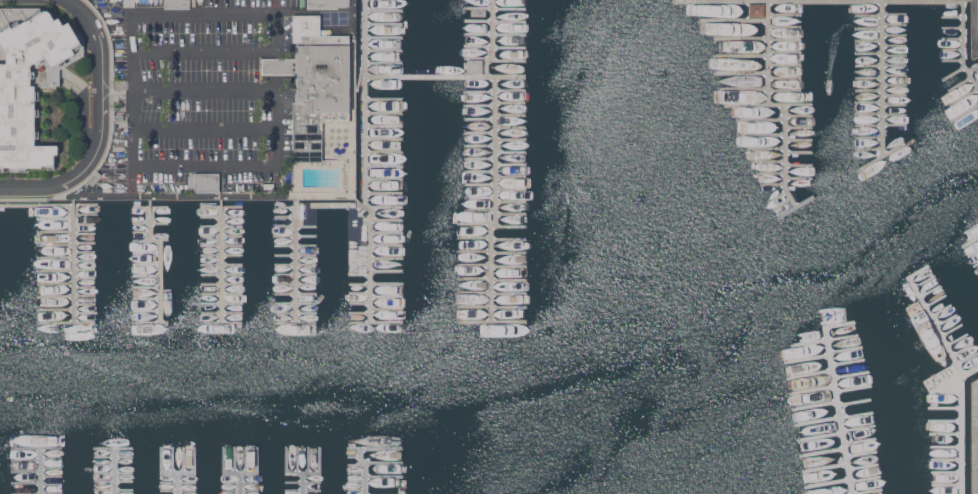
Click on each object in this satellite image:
pier: (685, 0)
pier: (732, 0)
pier: (871, 0)
building: (176, 4)
building: (327, 4)
pier: (495, 8)
building: (756, 9)
pier: (384, 10)
road: (262, 11)
pier: (785, 14)
pier: (881, 15)
pier: (952, 17)
pier: (733, 20)
pier: (496, 21)
road: (975, 22)
pier: (384, 23)
pier: (895, 25)
pier: (785, 26)
pier: (952, 28)
pier: (869, 29)
pier: (496, 34)
pier: (365, 35)
pier: (895, 35)
pier: (384, 37)
pier: (741, 38)
pier: (952, 39)
pier: (785, 40)
road: (91, 41)
pier: (869, 41)
pier: (495, 46)
pier: (895, 46)
pier: (963, 46)
pier: (952, 49)
pier: (384, 50)
pier: (785, 51)
pier: (869, 53)
pier: (741, 55)
pier: (895, 56)
pier: (495, 59)
pier: (952, 60)
pier: (384, 63)
pier: (785, 65)
pier: (881, 65)
building: (475, 66)
pier: (973, 68)
pier: (741, 72)
pier: (954, 73)
pier: (425, 75)
pier: (510, 75)
pier: (895, 75)
pier: (785, 77)
pier: (884, 77)
pier: (869, 78)
pier: (360, 79)
building: (30, 81)
road: (119, 83)
building: (315, 83)
pier: (960, 83)
pier: (895, 85)
pier: (760, 88)
pier: (495, 90)
pier: (869, 90)
road: (118, 94)
pier: (895, 95)
pier: (964, 97)
pier: (383, 99)
pier: (511, 102)
pier: (870, 102)
pier: (798, 103)
pier: (746, 104)
pier: (777, 104)
pier: (480, 105)
pier: (895, 105)
pier: (384, 113)
pier: (511, 114)
pier: (881, 114)
pier: (965, 114)
pier: (798, 115)
pier: (480, 118)
pier: (760, 120)
pier: (881, 125)
road: (104, 126)
pier: (384, 126)
pier: (799, 126)
road: (203, 127)
pier: (511, 127)
pier: (480, 133)
pier: (761, 135)
pier: (870, 137)
pier: (384, 139)
pier: (511, 139)
pier: (799, 139)
pier: (480, 145)
pier: (766, 149)
pier: (870, 149)
pier: (511, 151)
pier: (384, 152)
pier: (799, 152)
pier: (365, 155)
pier: (496, 155)
pier: (881, 157)
pier: (480, 158)
pier: (768, 161)
pier: (511, 164)
pier: (385, 165)
pier: (799, 165)
road: (276, 167)
pier: (480, 171)
pier: (771, 172)
pier: (511, 176)
building: (95, 177)
pier: (799, 178)
pier: (384, 180)
building: (203, 182)
pier: (480, 184)
pier: (773, 184)
building: (269, 186)
pier: (511, 189)
pier: (384, 193)
pier: (778, 195)
pier: (480, 197)
pier: (511, 202)
pier: (782, 203)
pier: (150, 207)
pier: (221, 207)
pier: (285, 207)
pier: (796, 207)
pier: (372, 210)
pier: (480, 210)
pier: (511, 213)
pier: (85, 214)
pier: (151, 214)
pier: (221, 216)
pier: (285, 216)
pier: (56, 218)
pier: (388, 219)
pier: (150, 220)
pier: (151, 223)
pier: (477, 223)
pier: (85, 224)
pier: (285, 225)
pier: (221, 226)
pier: (509, 226)
pier: (55, 231)
pier: (151, 231)
pier: (387, 232)
pier: (85, 234)
pier: (221, 236)
pier: (295, 236)
pier: (492, 237)
pier: (151, 240)
pier: (969, 240)
pier: (66, 243)
pier: (222, 245)
pier: (296, 245)
pier: (387, 245)
pier: (493, 250)
pier: (85, 251)
pier: (146, 253)
pier: (972, 253)
pier: (222, 255)
pier: (296, 255)
pier: (55, 257)
pier: (371, 257)
pier: (387, 259)
pier: (85, 260)
pier: (74, 261)
pier: (222, 261)
pier: (295, 261)
pier: (976, 262)
pier: (296, 263)
pier: (147, 264)
pier: (222, 264)
pier: (492, 265)
pier: (66, 270)
pier: (387, 271)
pier: (916, 271)
pier: (296, 274)
pier: (222, 275)
pier: (147, 276)
pier: (85, 278)
pier: (492, 279)
pier: (922, 280)
pier: (161, 281)
pier: (55, 283)
pier: (296, 283)
pier: (222, 284)
pier: (376, 284)
pier: (85, 287)
pier: (147, 287)
pier: (926, 288)
pier: (360, 292)
pier: (222, 293)
pier: (492, 293)
pier: (295, 294)
pier: (66, 296)
pier: (931, 297)
pier: (387, 298)
pier: (146, 300)
pier: (222, 303)
pier: (85, 304)
pier: (360, 304)
pier: (295, 305)
pier: (935, 305)
pier: (492, 308)
pier: (55, 310)
pier: (387, 310)
pier: (146, 311)
pier: (222, 312)
pier: (85, 313)
pier: (940, 313)
pier: (295, 314)
pier: (360, 314)
pier: (945, 321)
pier: (66, 323)
pier: (146, 323)
pier: (221, 323)
pier: (375, 323)
pier: (492, 323)
pier: (295, 324)
pier: (936, 324)
pier: (950, 330)
pier: (823, 337)
pier: (955, 338)
pier: (960, 346)
pier: (845, 350)
pier: (965, 354)
pier: (805, 357)
pier: (847, 361)
pier: (969, 362)
pier: (971, 369)
pier: (849, 372)
pier: (809, 373)
pier: (812, 388)
pier: (852, 389)
pier: (835, 395)
pier: (852, 401)
pier: (814, 405)
pier: (943, 406)
pier: (833, 415)
pier: (943, 419)
pier: (834, 432)
pier: (960, 432)
pier: (944, 433)
road: (972, 435)
pier: (859, 440)
pier: (945, 445)
pier: (822, 451)
pier: (358, 453)
pier: (861, 453)
pier: (946, 459)
pier: (862, 465)
pier: (824, 467)
pier: (946, 470)
pier: (39, 471)
pier: (114, 471)
pier: (840, 480)
pier: (175, 483)
pier: (945, 483)
pier: (239, 484)
pier: (301, 484)
pier: (864, 491)

